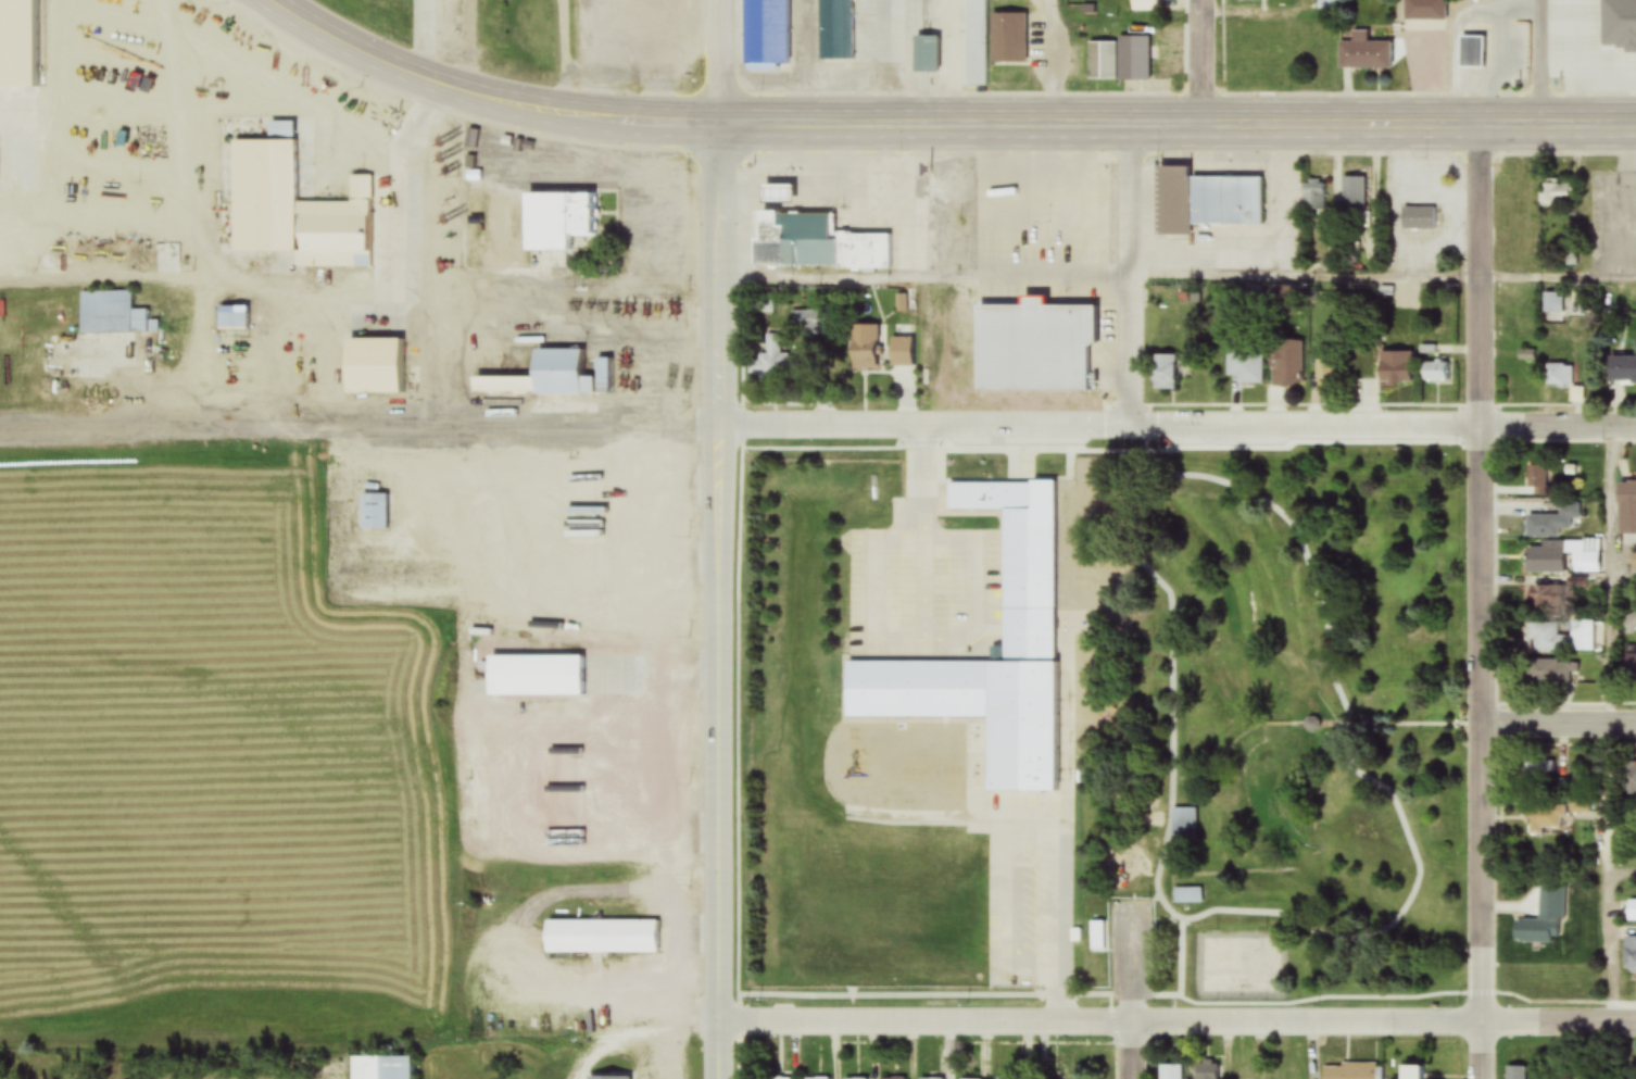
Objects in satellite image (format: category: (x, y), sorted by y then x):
building: (1248, 0)
building: (1327, 5)
building: (1425, 10)
building: (834, 29)
building: (766, 30)
building: (1007, 38)
building: (1625, 41)
building: (976, 42)
building: (1480, 51)
building: (1132, 53)
building: (1364, 53)
building: (926, 54)
road: (720, 62)
road: (1049, 62)
building: (1102, 62)
road: (1201, 62)
road: (1546, 62)
road: (484, 97)
road: (1178, 125)
building: (264, 193)
building: (1355, 193)
building: (1559, 193)
building: (1314, 195)
building: (1205, 202)
building: (1418, 218)
building: (558, 221)
building: (818, 244)
road: (1102, 274)
road: (1135, 277)
road: (1561, 277)
building: (1553, 304)
airport hangar: (108, 314)
building: (108, 314)
road: (583, 324)
building: (865, 336)
building: (232, 344)
building: (1031, 347)
building: (1245, 364)
building: (1285, 365)
airport terminal: (373, 366)
building: (373, 366)
airport apron: (437, 366)
building: (1394, 367)
building: (1171, 368)
building: (1621, 369)
building: (1435, 372)
airport apron: (104, 373)
airport hangar: (557, 374)
building: (557, 374)
airport apron: (638, 374)
building: (1559, 375)
airport taxiway: (432, 413)
airport taxiway: (113, 417)
road: (1485, 424)
airport runway: (327, 429)
road: (1174, 430)
building: (1627, 494)
building: (374, 510)
building: (1551, 520)
building: (1584, 556)
building: (1546, 559)
building: (1634, 563)
road: (1623, 574)
road: (1611, 577)
building: (1025, 586)
building: (1545, 597)
road: (716, 601)
road: (738, 624)
building: (1629, 624)
building: (1559, 638)
airport: (250, 642)
building: (1628, 663)
building: (532, 674)
building: (1550, 674)
road: (1560, 724)
road: (1307, 726)
park: (1284, 738)
building: (1538, 774)
building: (1629, 780)
building: (1578, 805)
building: (1545, 817)
building: (1180, 825)
building: (1185, 895)
road: (1484, 902)
building: (1628, 911)
building: (1534, 932)
building: (1098, 936)
road: (1610, 936)
building: (600, 938)
road: (1346, 938)
building: (1629, 954)
airport runway: (68, 956)
road: (1178, 1022)
road: (1134, 1051)
building: (382, 1068)
building: (1205, 1070)
building: (1169, 1071)
building: (1241, 1071)
building: (1349, 1071)
building: (1413, 1072)
building: (1518, 1072)

